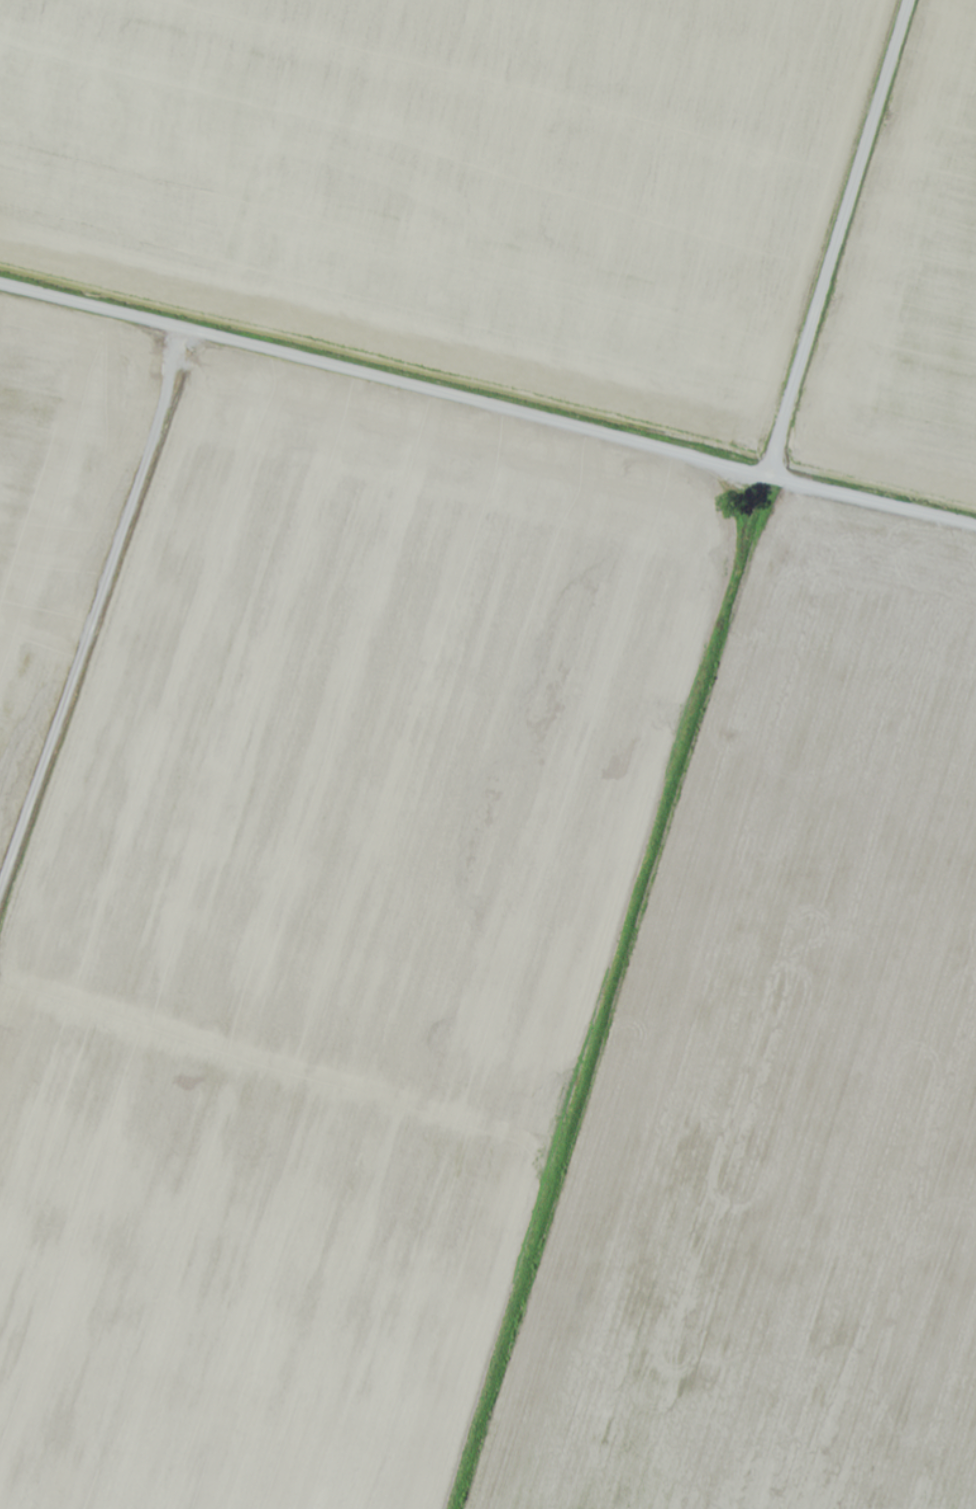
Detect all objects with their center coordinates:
road: (839, 237)
road: (488, 402)

